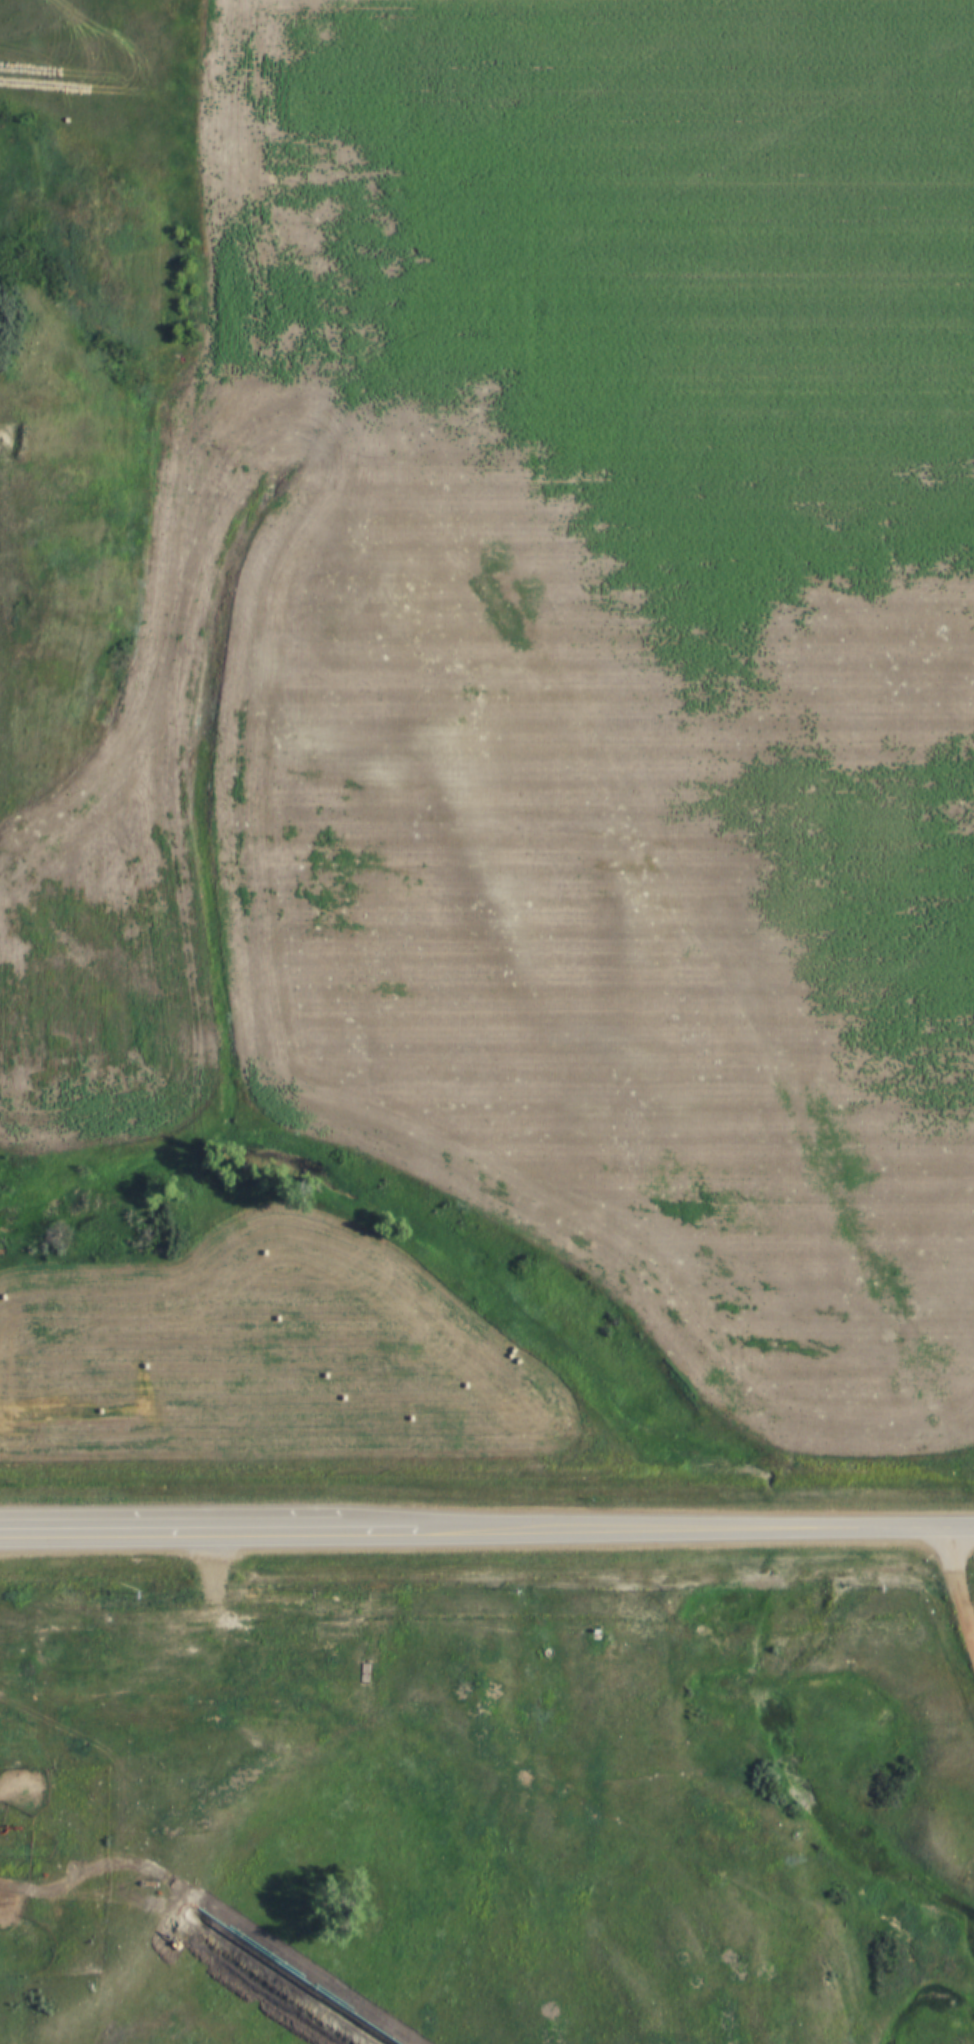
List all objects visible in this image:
road: (146, 700)
road: (487, 1534)
road: (958, 1590)

